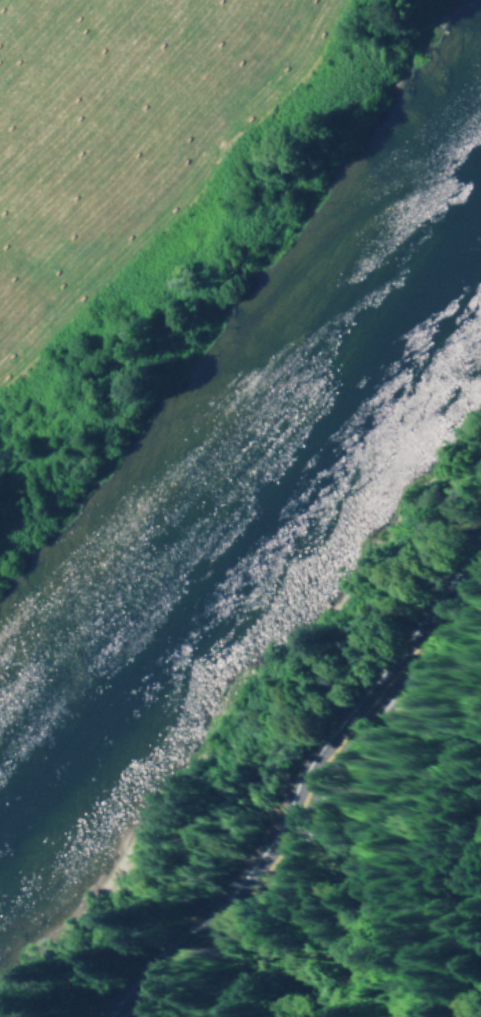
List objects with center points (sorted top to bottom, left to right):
river: (250, 507)
road: (289, 758)

